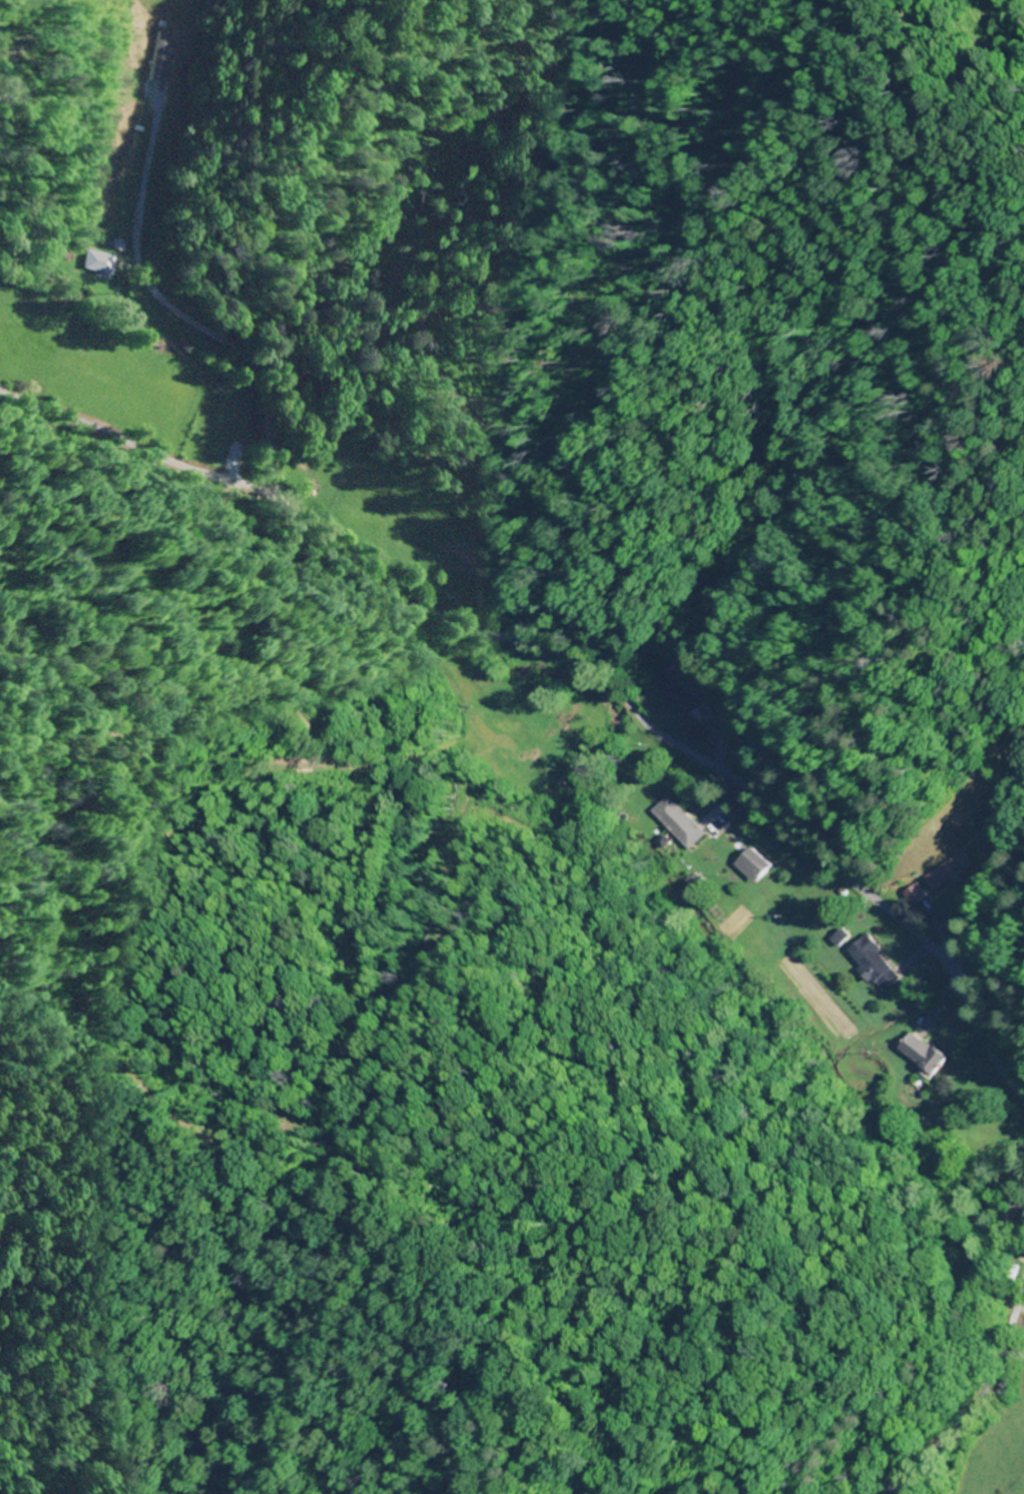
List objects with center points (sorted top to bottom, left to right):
building: (103, 263)
building: (456, 577)
road: (571, 659)
building: (681, 695)
building: (561, 748)
building: (951, 872)
building: (879, 965)
building: (929, 1053)
building: (940, 1155)
road: (974, 1407)

